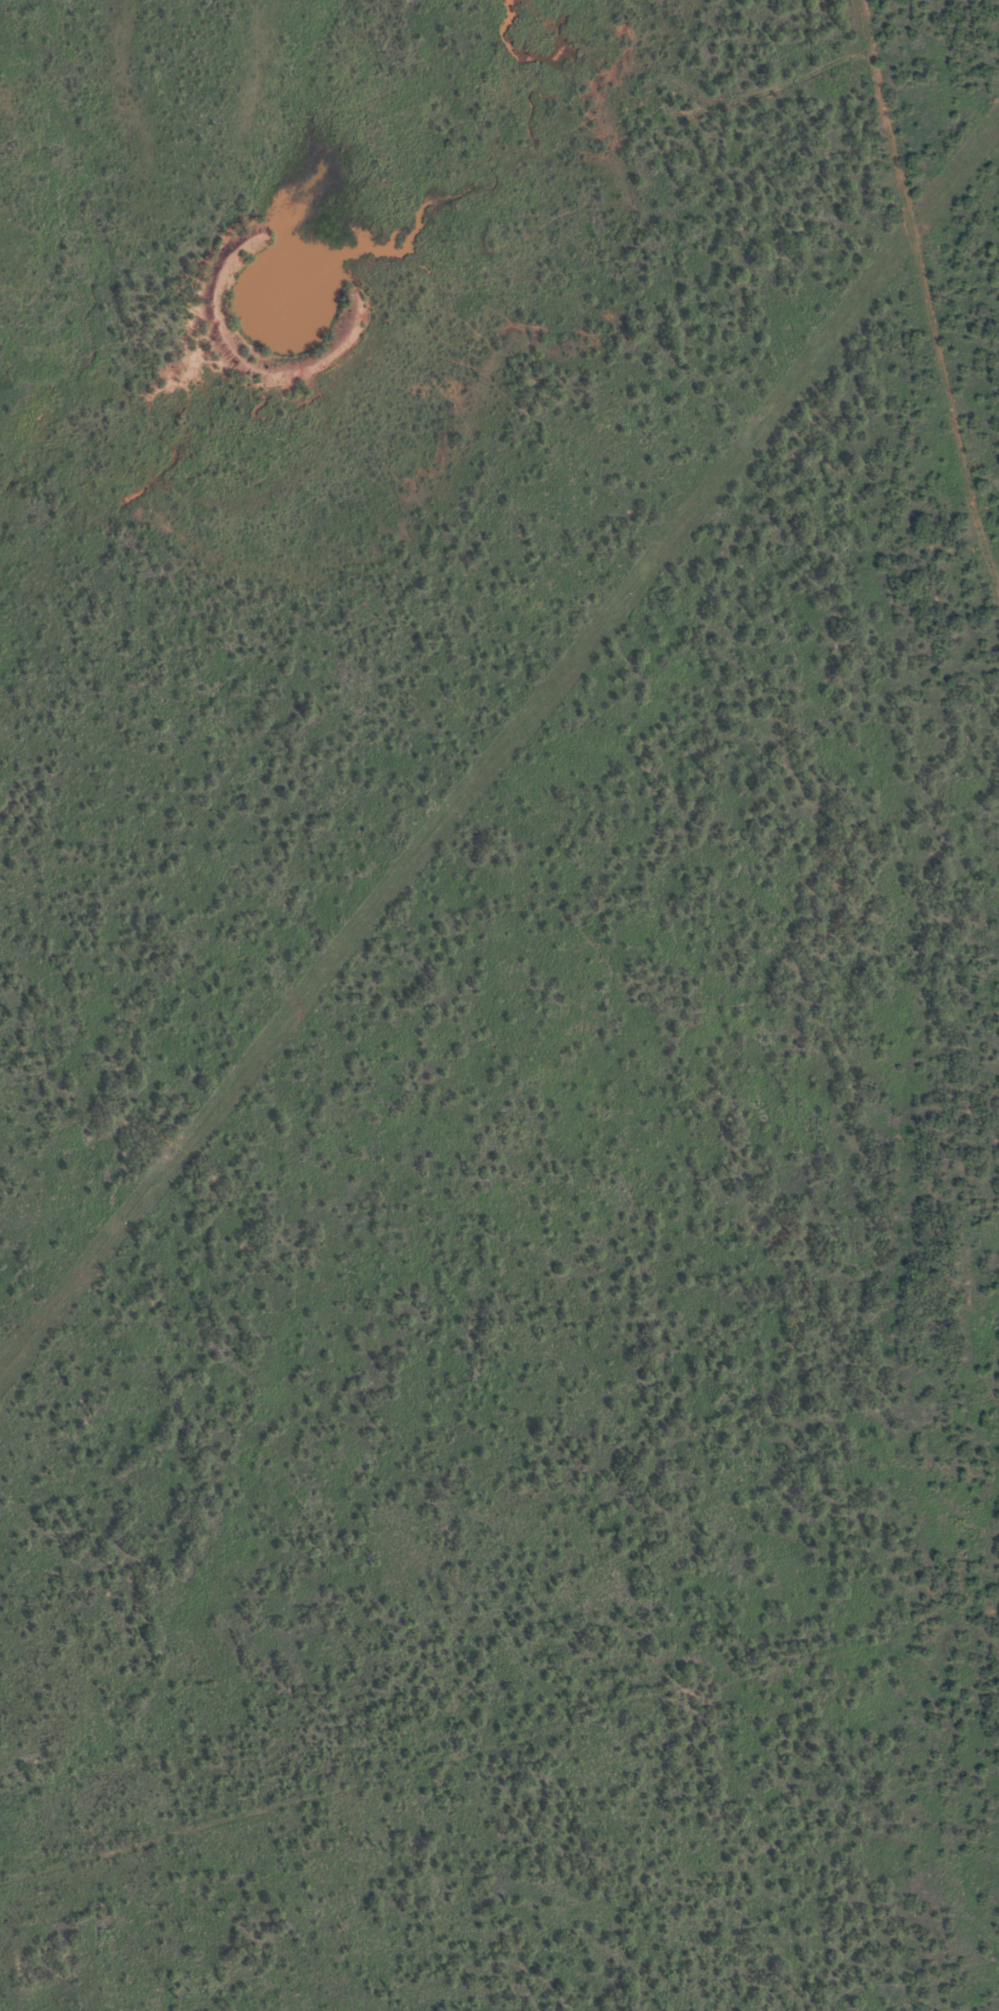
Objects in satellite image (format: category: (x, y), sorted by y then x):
road: (911, 313)

